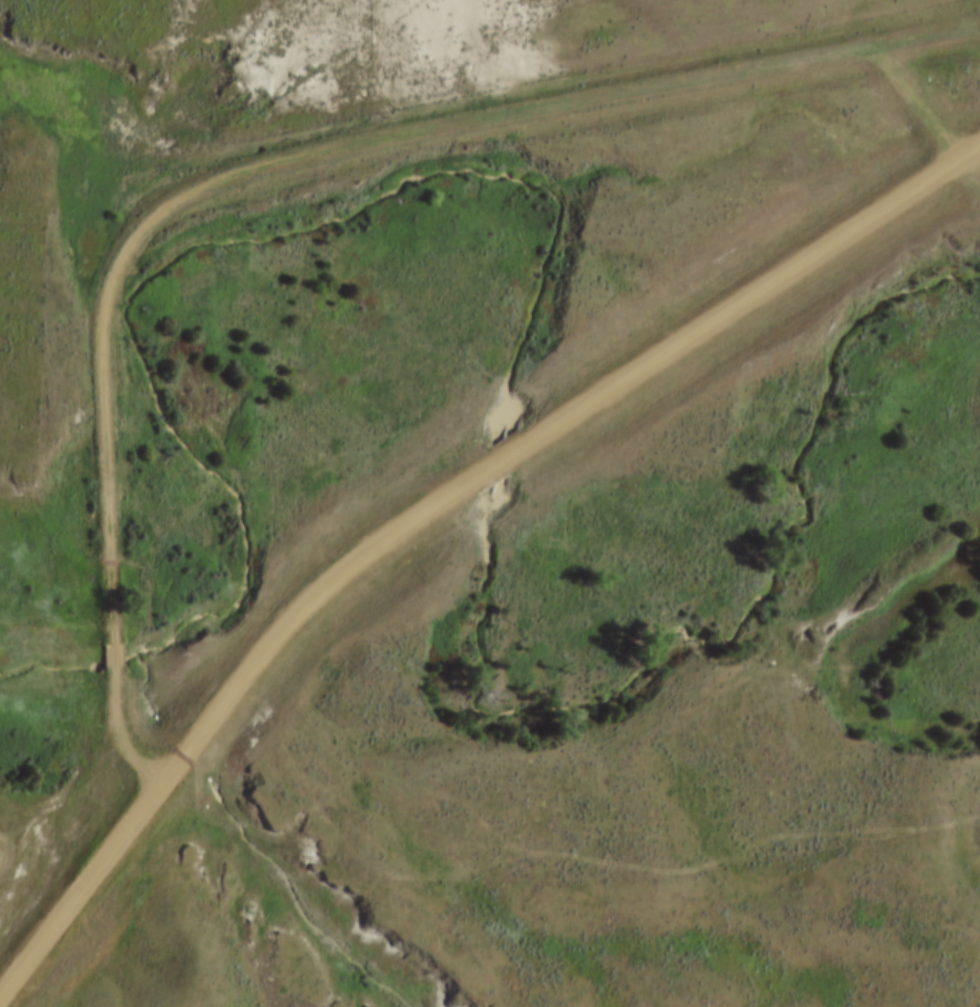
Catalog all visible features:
road: (345, 145)
river: (512, 349)
road: (115, 656)
road: (57, 799)
road: (88, 836)

